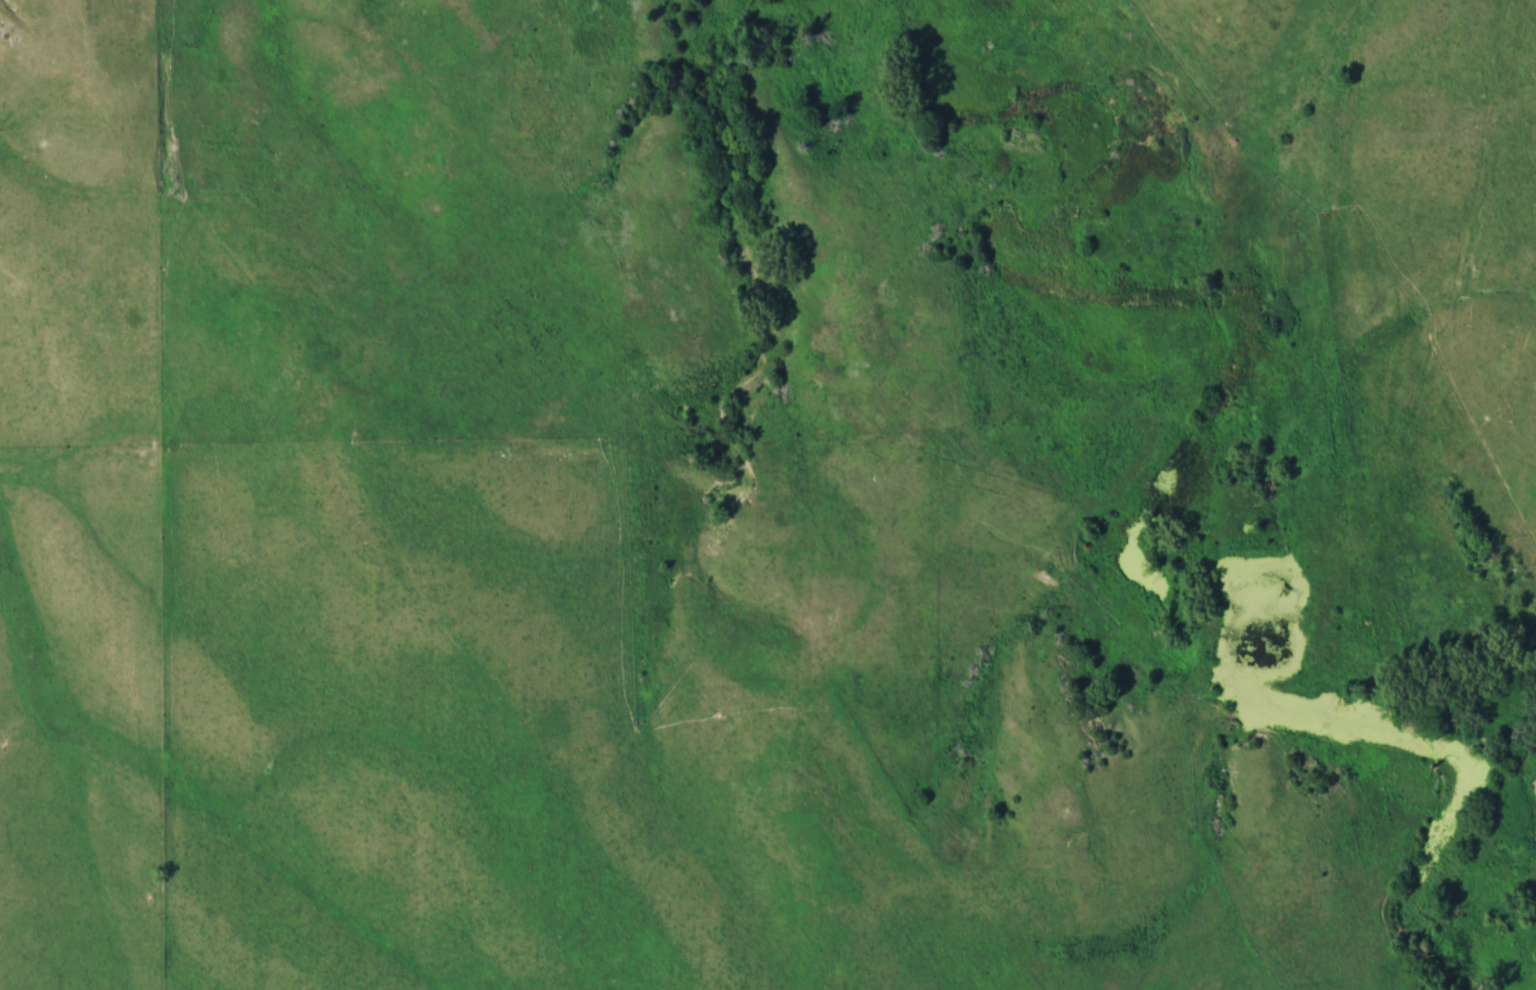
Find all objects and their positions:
building: (1534, 780)

